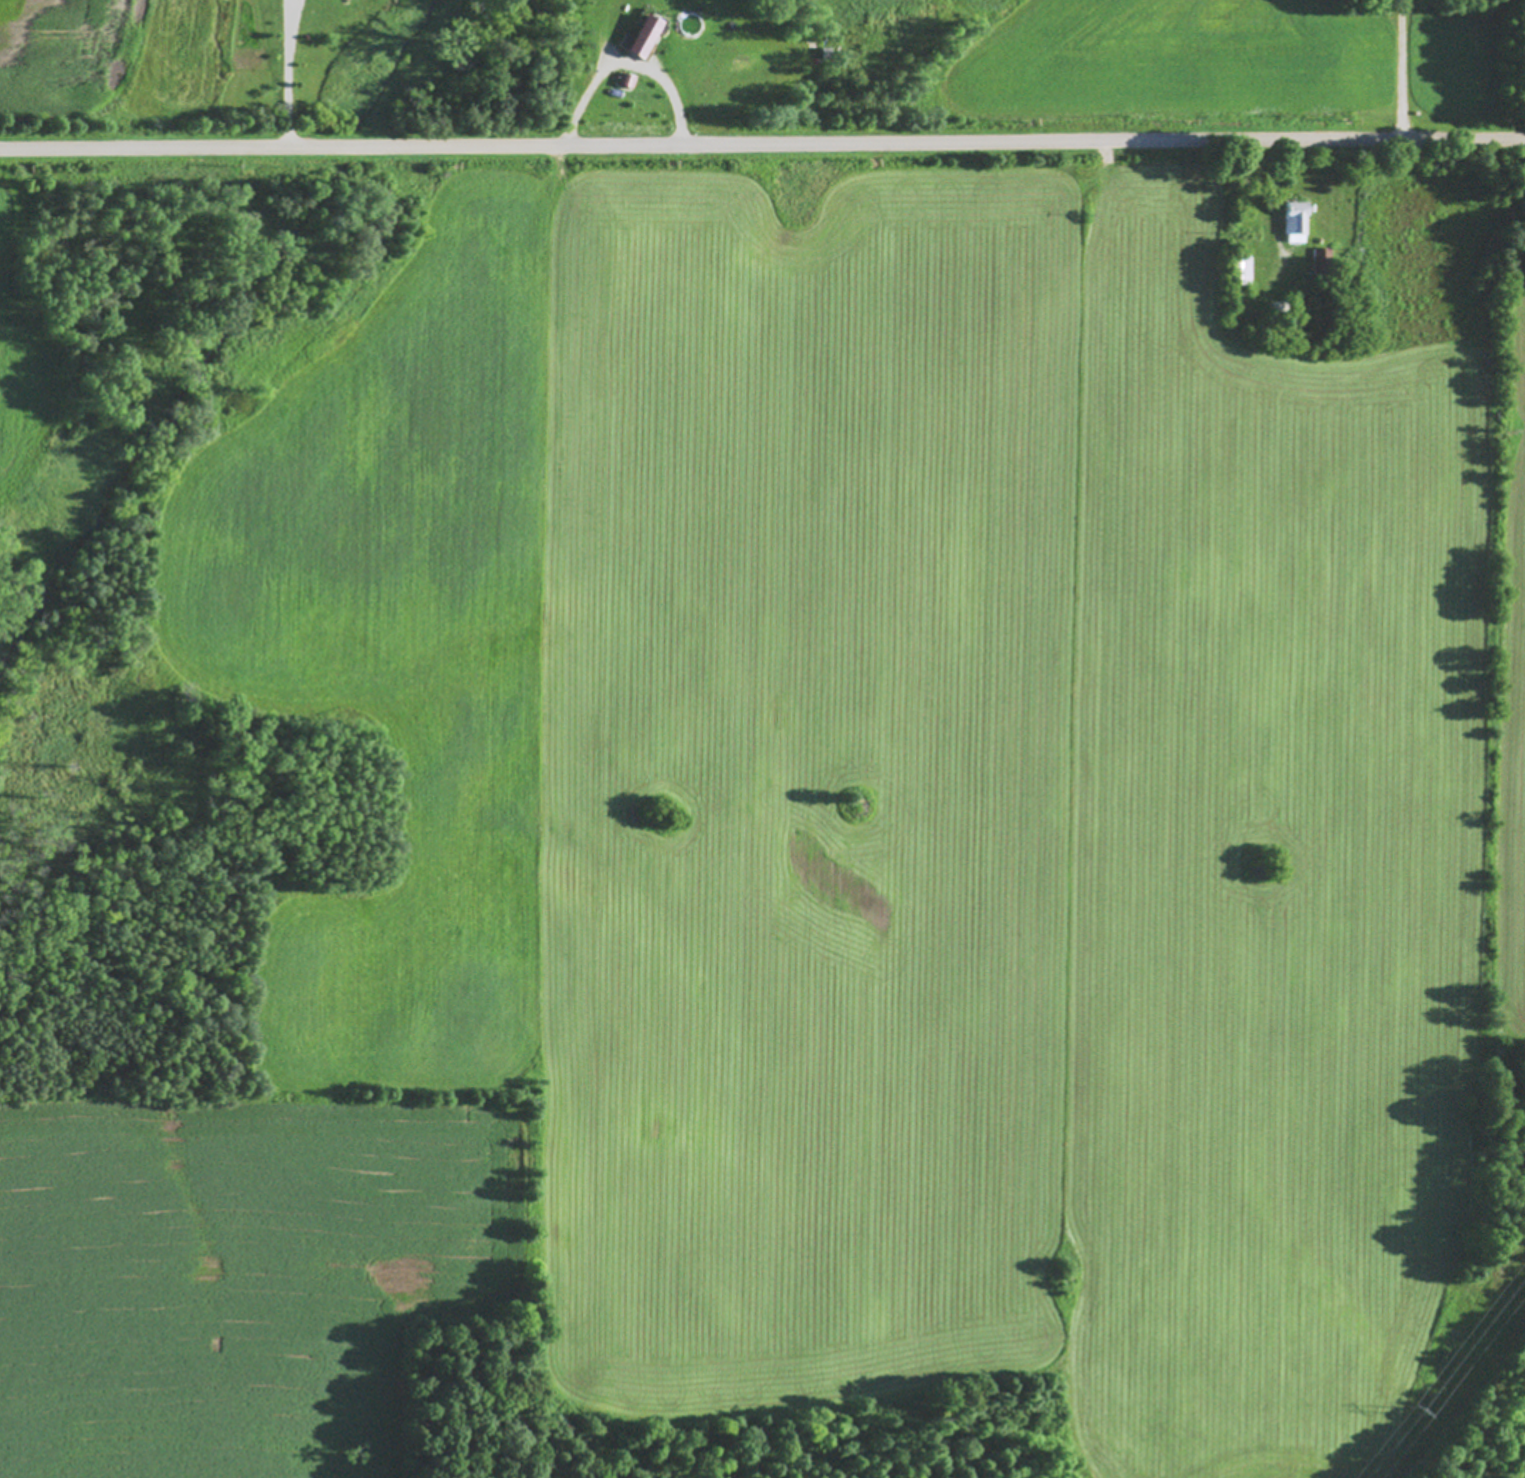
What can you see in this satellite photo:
building: (644, 38)
road: (1401, 68)
building: (626, 81)
road: (762, 141)
building: (1296, 223)
building: (1321, 262)
power tower: (1408, 1407)

